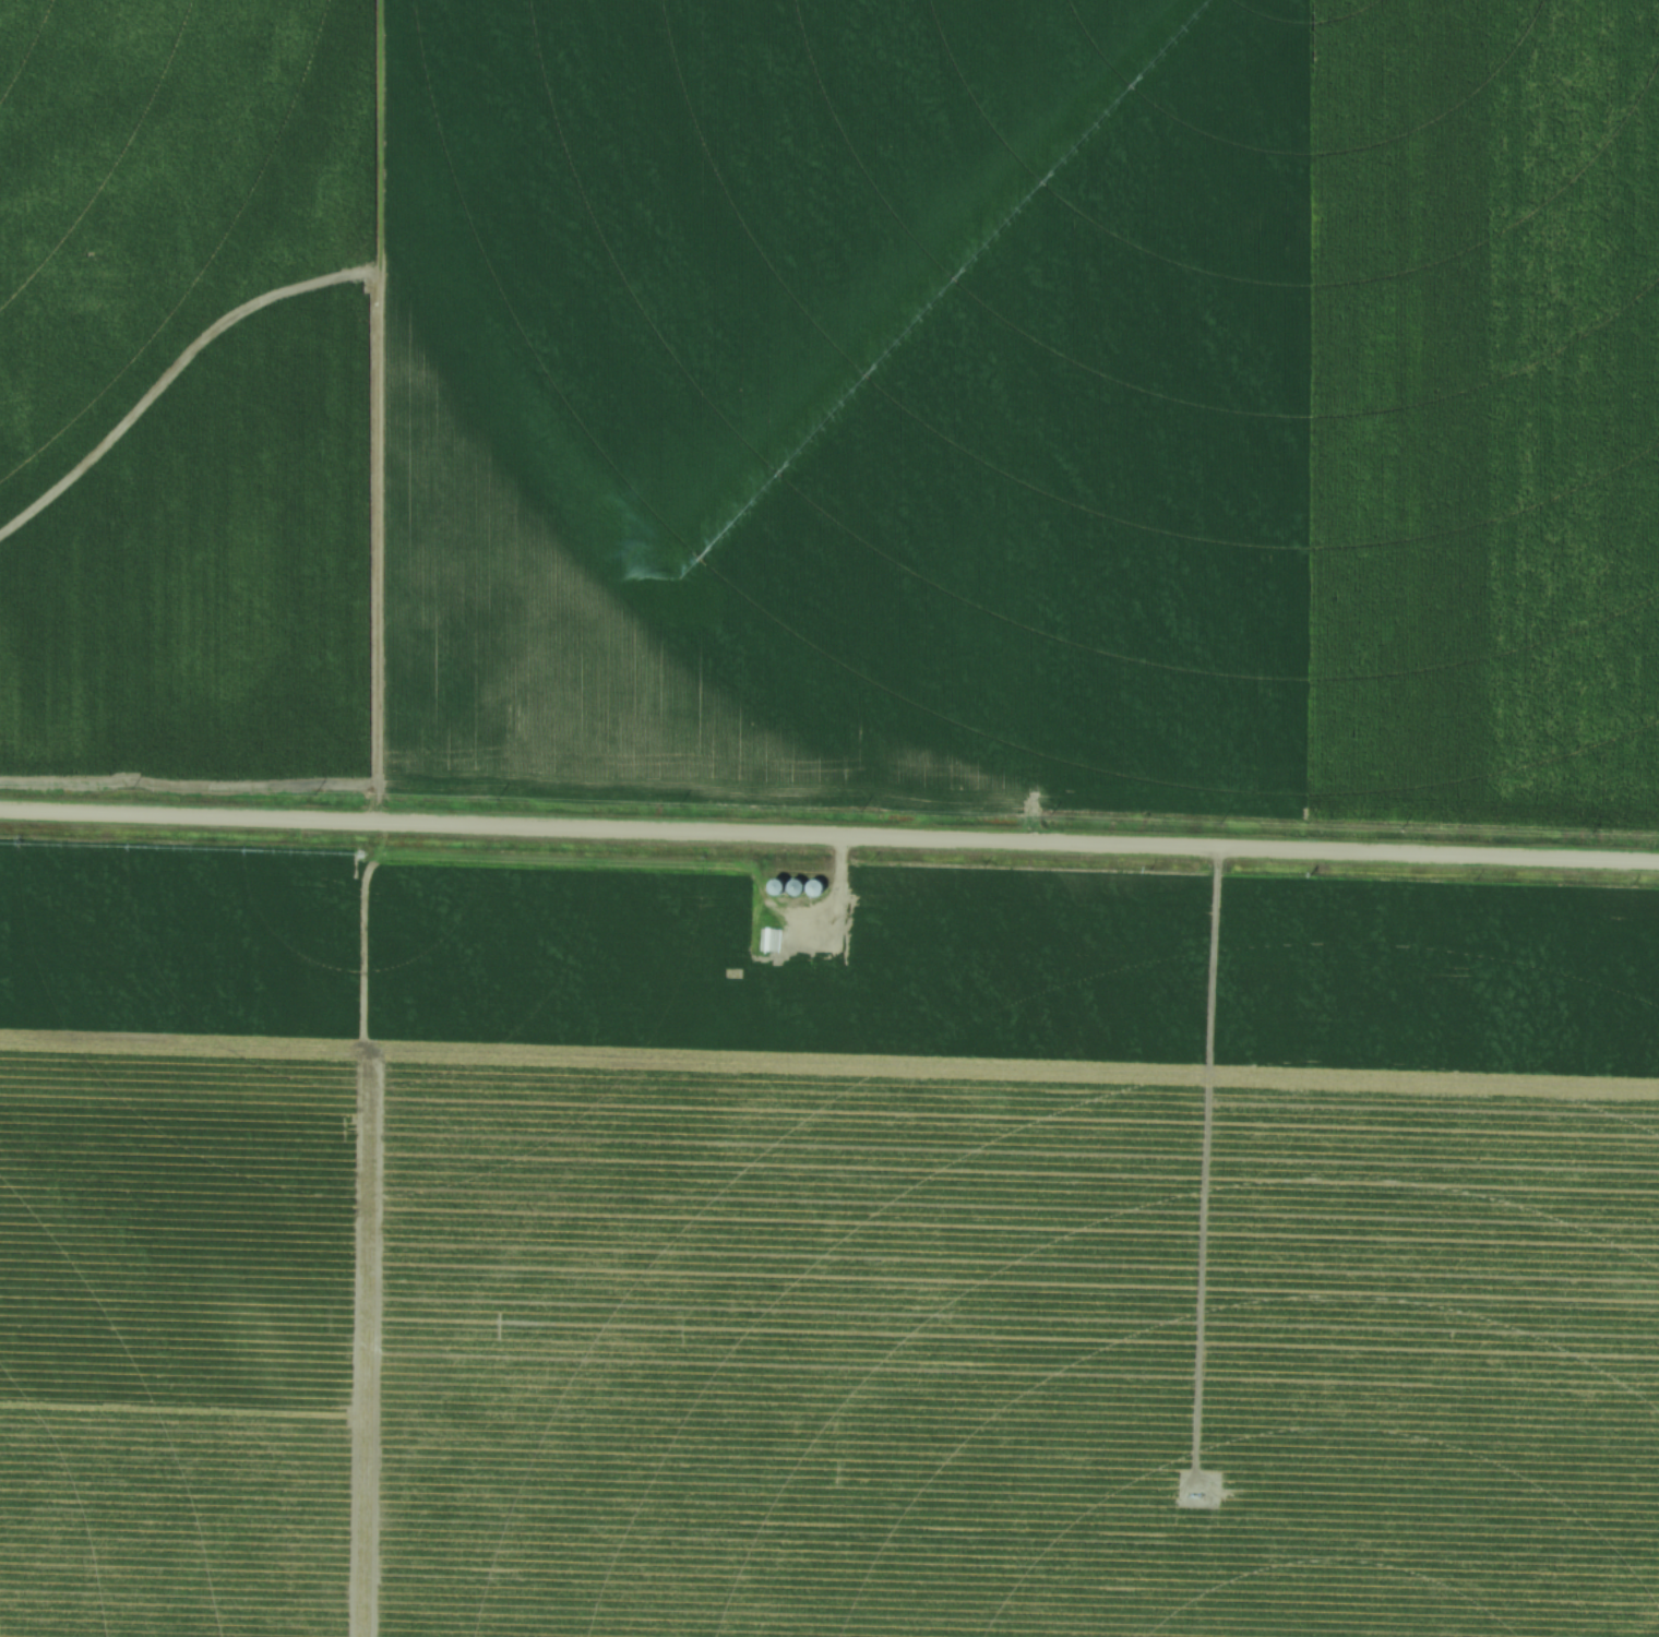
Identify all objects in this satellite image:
road: (829, 839)

